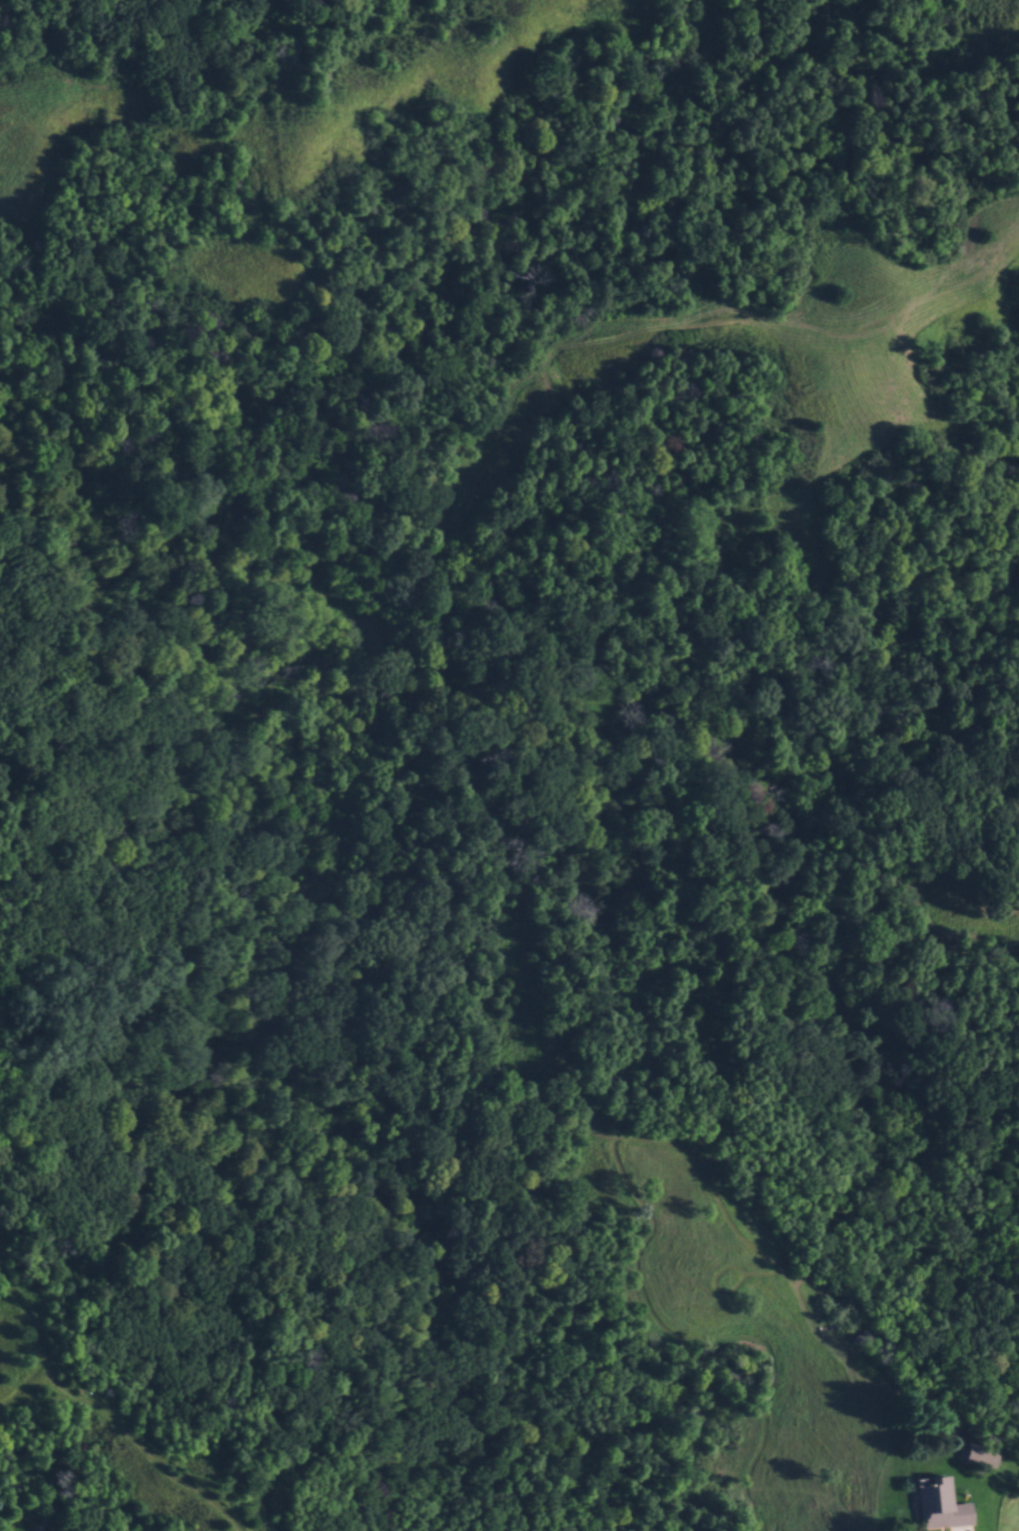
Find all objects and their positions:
road: (799, 9)
building: (975, 1452)
building: (935, 1503)
building: (25, 1530)

